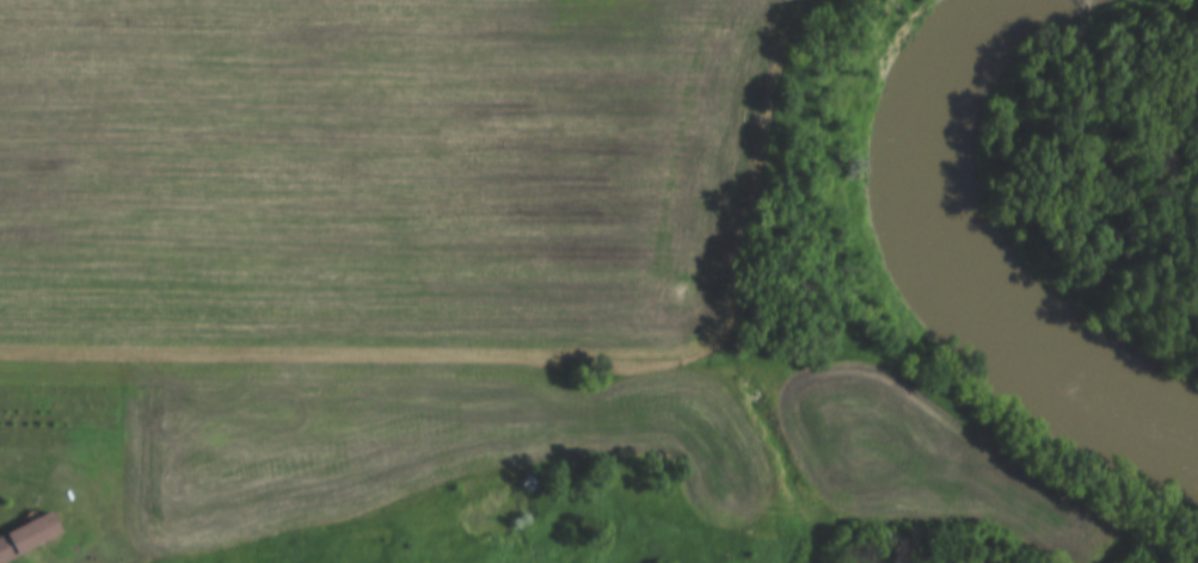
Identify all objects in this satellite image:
river: (914, 286)
building: (25, 537)

